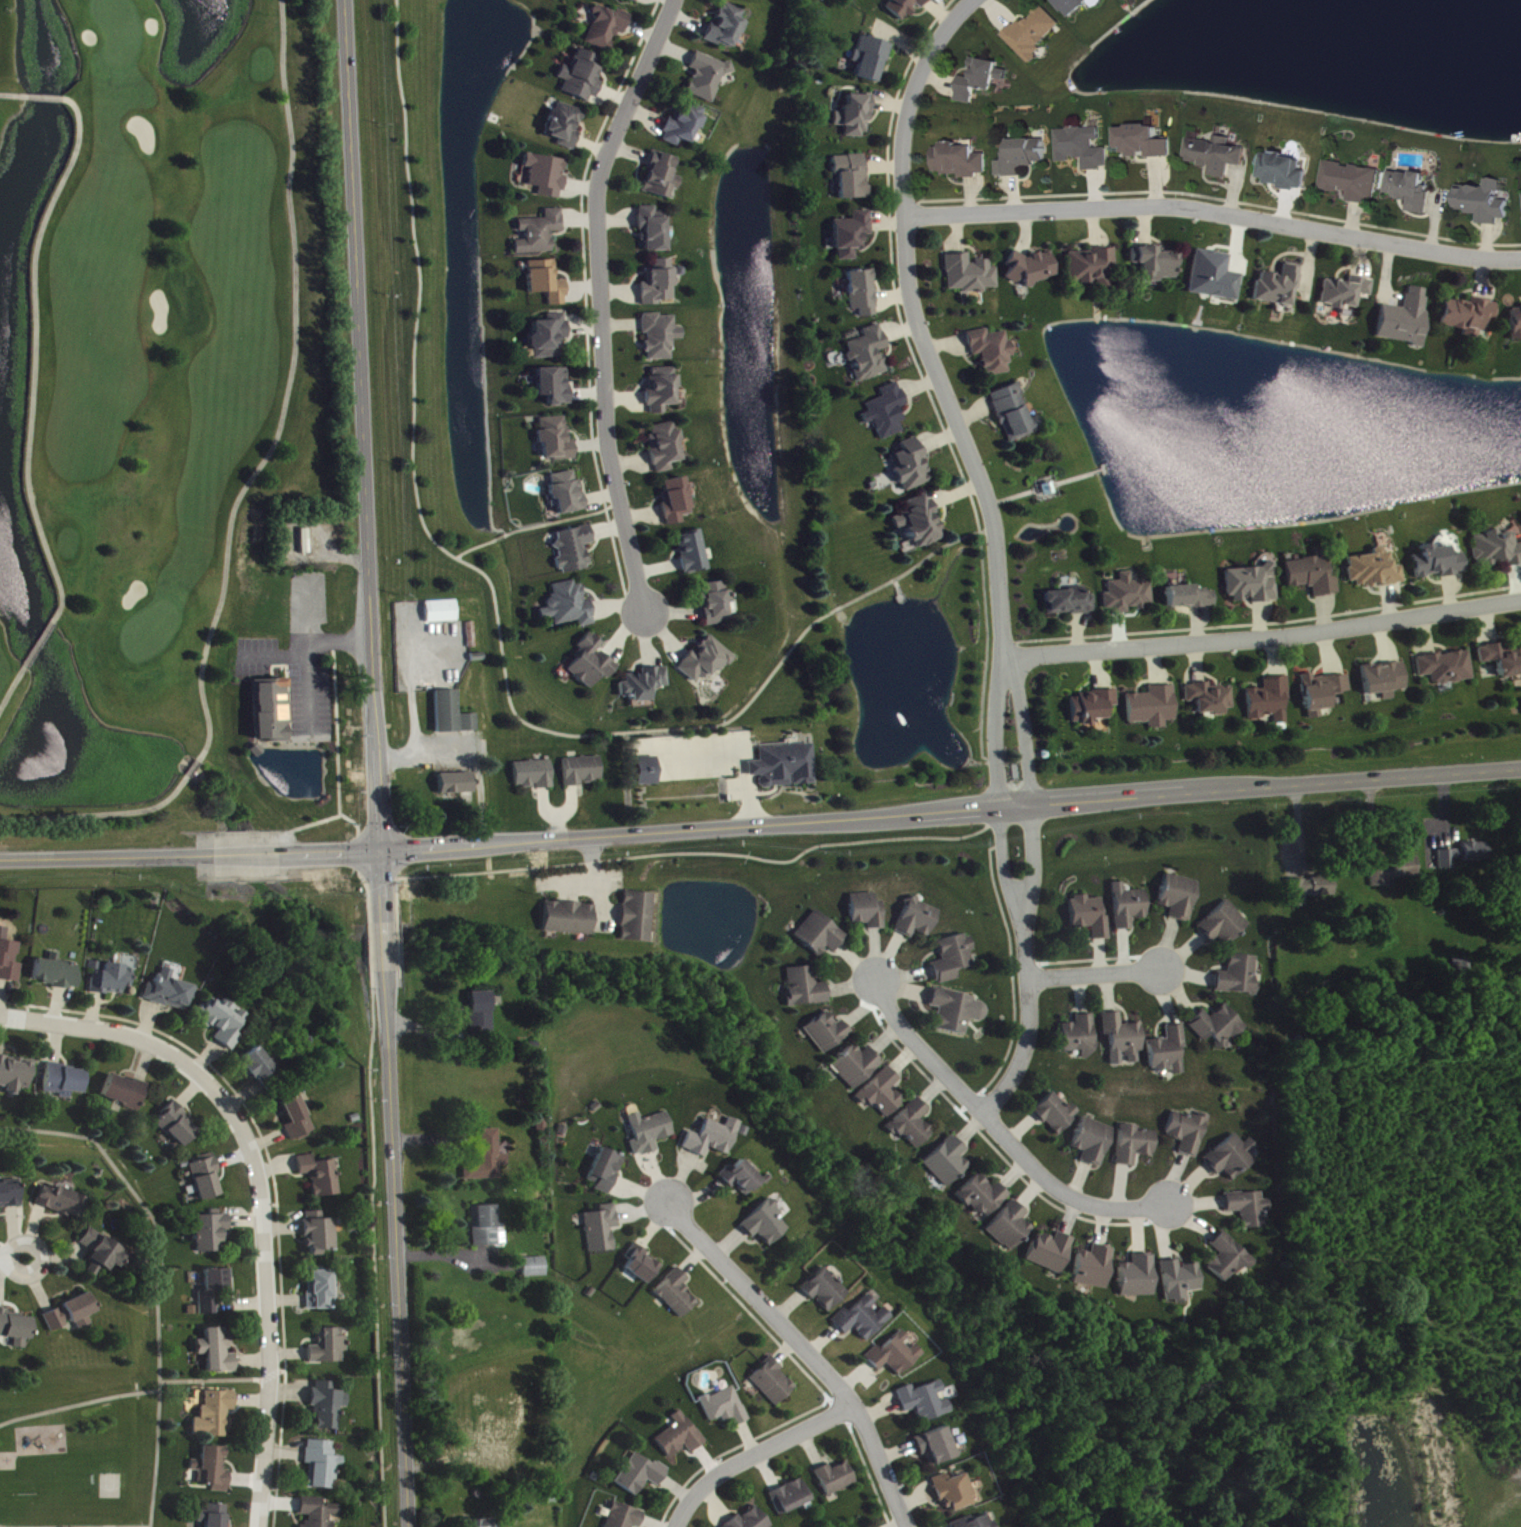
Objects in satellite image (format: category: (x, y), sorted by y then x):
building: (634, 1)
building: (1079, 6)
building: (904, 7)
building: (608, 28)
building: (727, 28)
building: (1039, 33)
building: (871, 58)
building: (583, 77)
building: (708, 77)
building: (986, 80)
road: (45, 98)
building: (855, 116)
building: (566, 125)
building: (685, 125)
building: (1149, 143)
building: (1088, 148)
building: (1220, 156)
building: (1028, 157)
building: (965, 162)
building: (1287, 172)
building: (547, 176)
building: (661, 177)
building: (852, 177)
building: (1356, 182)
building: (1415, 190)
building: (1489, 202)
road: (1215, 211)
building: (653, 230)
building: (541, 233)
building: (852, 235)
building: (1156, 264)
building: (1092, 267)
building: (1034, 269)
building: (970, 275)
building: (1216, 277)
building: (547, 283)
building: (660, 284)
building: (1280, 287)
building: (862, 293)
building: (1347, 293)
road: (597, 299)
building: (1471, 317)
building: (1408, 319)
building: (1517, 323)
building: (550, 337)
building: (661, 337)
building: (992, 352)
building: (868, 355)
park: (150, 379)
road: (36, 381)
building: (554, 387)
building: (662, 391)
building: (887, 412)
building: (1015, 415)
building: (556, 441)
building: (666, 447)
road: (362, 461)
building: (910, 467)
road: (249, 492)
building: (568, 493)
building: (677, 502)
building: (921, 523)
road: (536, 526)
road: (995, 544)
building: (1498, 549)
building: (574, 550)
building: (694, 553)
building: (1440, 563)
building: (1376, 571)
building: (1314, 576)
building: (1253, 585)
building: (1128, 595)
building: (1190, 598)
building: (1069, 603)
building: (716, 604)
building: (569, 606)
building: (443, 612)
road: (495, 618)
road: (1264, 634)
road: (41, 649)
building: (1504, 659)
building: (706, 661)
building: (591, 664)
building: (1447, 668)
building: (1386, 680)
building: (644, 685)
building: (1324, 693)
building: (1211, 699)
building: (1272, 701)
road: (410, 704)
building: (1092, 707)
building: (1154, 708)
building: (273, 711)
building: (449, 712)
building: (471, 724)
building: (786, 767)
road: (476, 769)
building: (584, 772)
building: (648, 772)
building: (536, 776)
building: (459, 785)
road: (909, 812)
road: (957, 836)
traffic signals: (380, 853)
road: (255, 855)
building: (1465, 856)
road: (106, 858)
road: (106, 870)
road: (255, 870)
building: (1397, 872)
road: (352, 874)
road: (364, 877)
road: (380, 877)
building: (1311, 890)
building: (1180, 898)
road: (999, 906)
building: (1129, 908)
building: (869, 912)
building: (1091, 917)
building: (639, 918)
building: (571, 919)
building: (919, 920)
building: (1225, 926)
building: (821, 936)
road: (369, 944)
road: (384, 946)
road: (1087, 957)
building: (955, 959)
building: (9, 963)
road: (1095, 972)
building: (57, 974)
building: (1240, 977)
building: (112, 979)
building: (806, 988)
building: (171, 992)
road: (886, 1010)
building: (958, 1012)
building: (482, 1014)
building: (224, 1022)
building: (1219, 1027)
building: (828, 1033)
road: (127, 1034)
building: (1078, 1036)
building: (1124, 1039)
road: (1007, 1046)
road: (902, 1050)
building: (1170, 1052)
building: (257, 1066)
building: (857, 1067)
building: (15, 1075)
building: (66, 1082)
building: (127, 1093)
building: (883, 1095)
building: (1057, 1115)
building: (298, 1120)
building: (178, 1126)
building: (913, 1126)
building: (1189, 1132)
building: (650, 1133)
road: (1002, 1134)
building: (713, 1139)
building: (1094, 1142)
building: (1137, 1145)
building: (487, 1158)
building: (1234, 1158)
building: (948, 1163)
building: (607, 1172)
building: (321, 1177)
building: (741, 1179)
building: (205, 1182)
building: (983, 1197)
road: (1051, 1201)
building: (64, 1203)
building: (1250, 1209)
building: (766, 1225)
building: (1011, 1228)
building: (488, 1229)
building: (603, 1230)
building: (212, 1234)
building: (321, 1234)
road: (372, 1245)
road: (395, 1248)
building: (104, 1252)
building: (1052, 1253)
road: (14, 1257)
building: (1229, 1259)
building: (641, 1266)
building: (535, 1268)
building: (1095, 1268)
road: (155, 1275)
building: (1139, 1278)
building: (1181, 1282)
building: (215, 1290)
building: (321, 1291)
building: (825, 1291)
building: (676, 1295)
road: (764, 1304)
road: (268, 1313)
building: (73, 1315)
building: (862, 1320)
building: (16, 1329)
building: (329, 1348)
building: (218, 1351)
building: (896, 1355)
road: (214, 1378)
building: (773, 1383)
road: (78, 1402)
building: (925, 1403)
building: (328, 1406)
building: (725, 1408)
building: (215, 1416)
building: (680, 1437)
building: (936, 1448)
road: (756, 1454)
park: (80, 1463)
building: (322, 1465)
road: (881, 1467)
building: (212, 1470)
building: (641, 1476)
building: (837, 1479)
park: (107, 1483)
building: (954, 1494)
building: (791, 1498)
building: (319, 1512)
building: (214, 1517)
building: (626, 1517)
building: (752, 1520)
building: (974, 1523)
building: (479, 1524)
road: (74, 1526)

